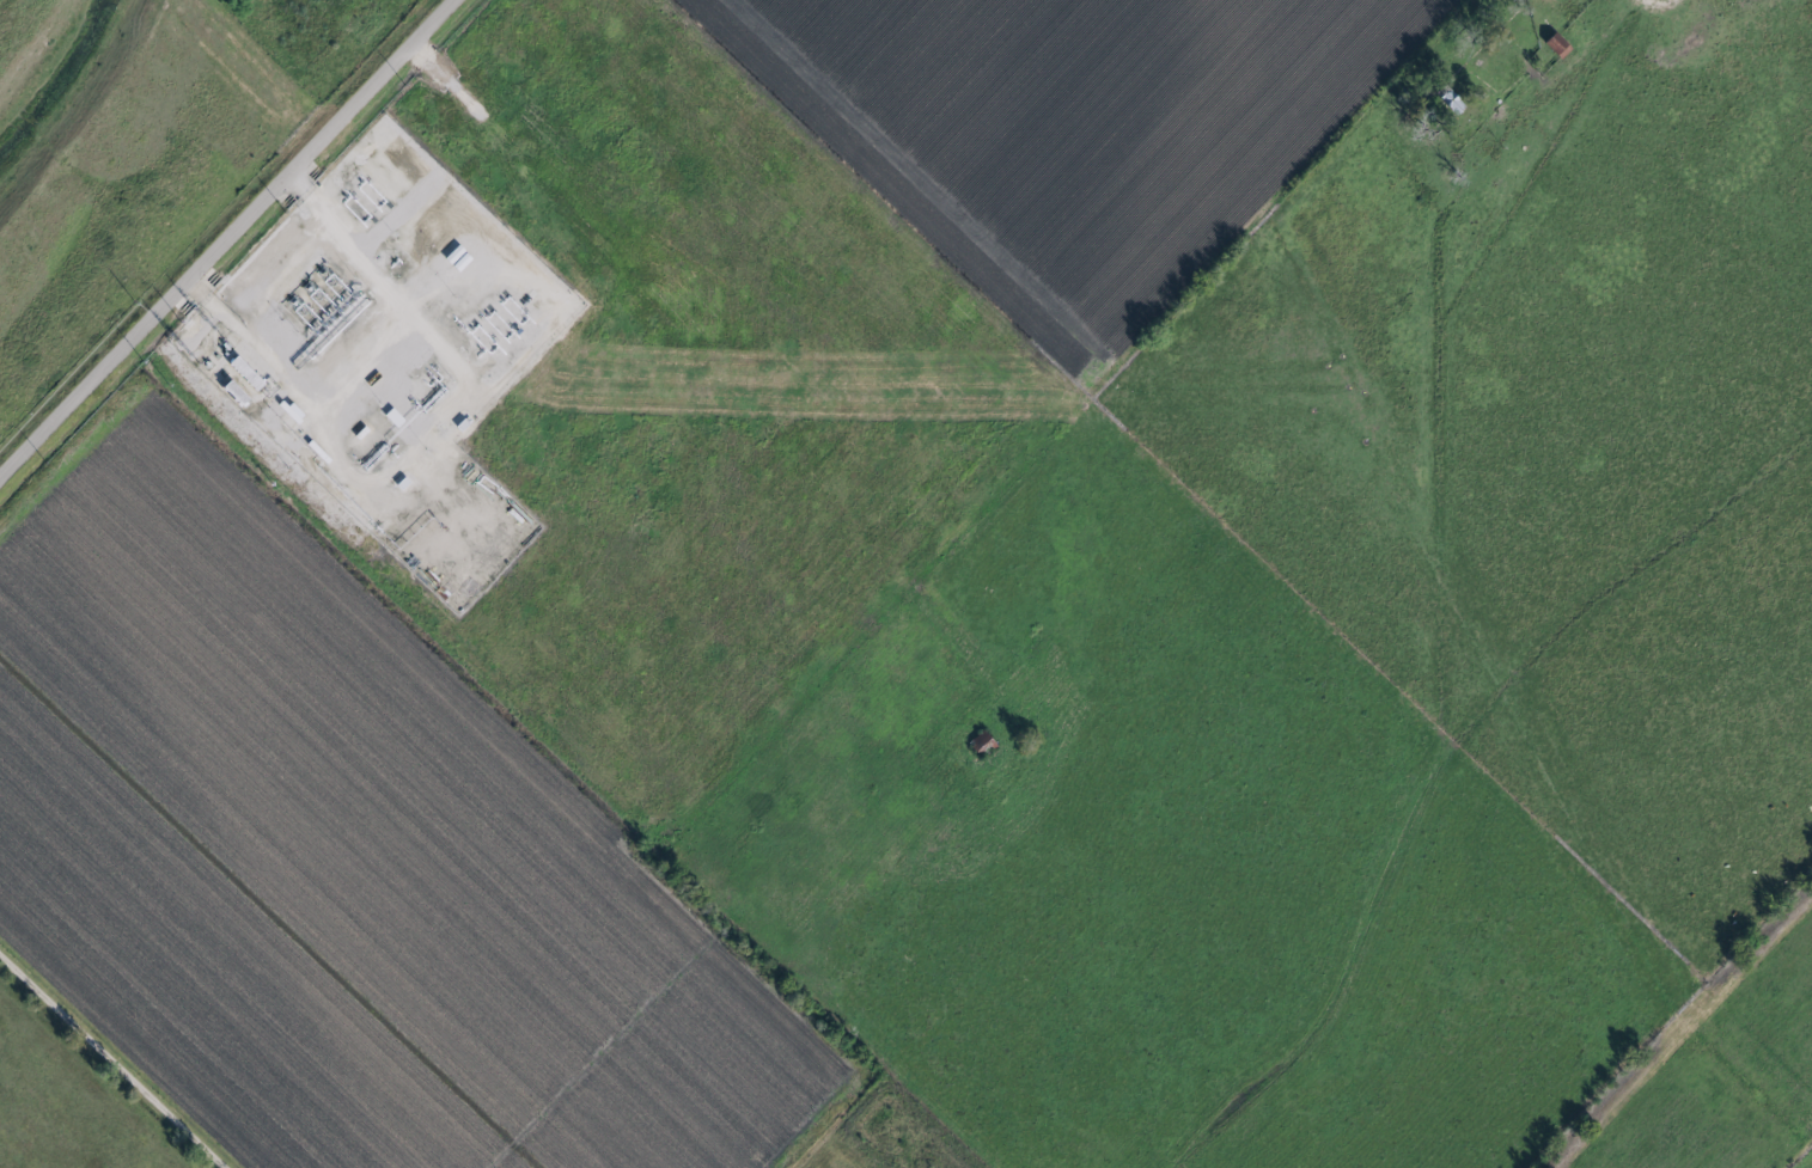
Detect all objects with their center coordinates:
road: (1657, 4)
building: (1555, 45)
building: (1447, 100)
road: (226, 238)
road: (1076, 296)
building: (978, 742)
road: (114, 1058)

